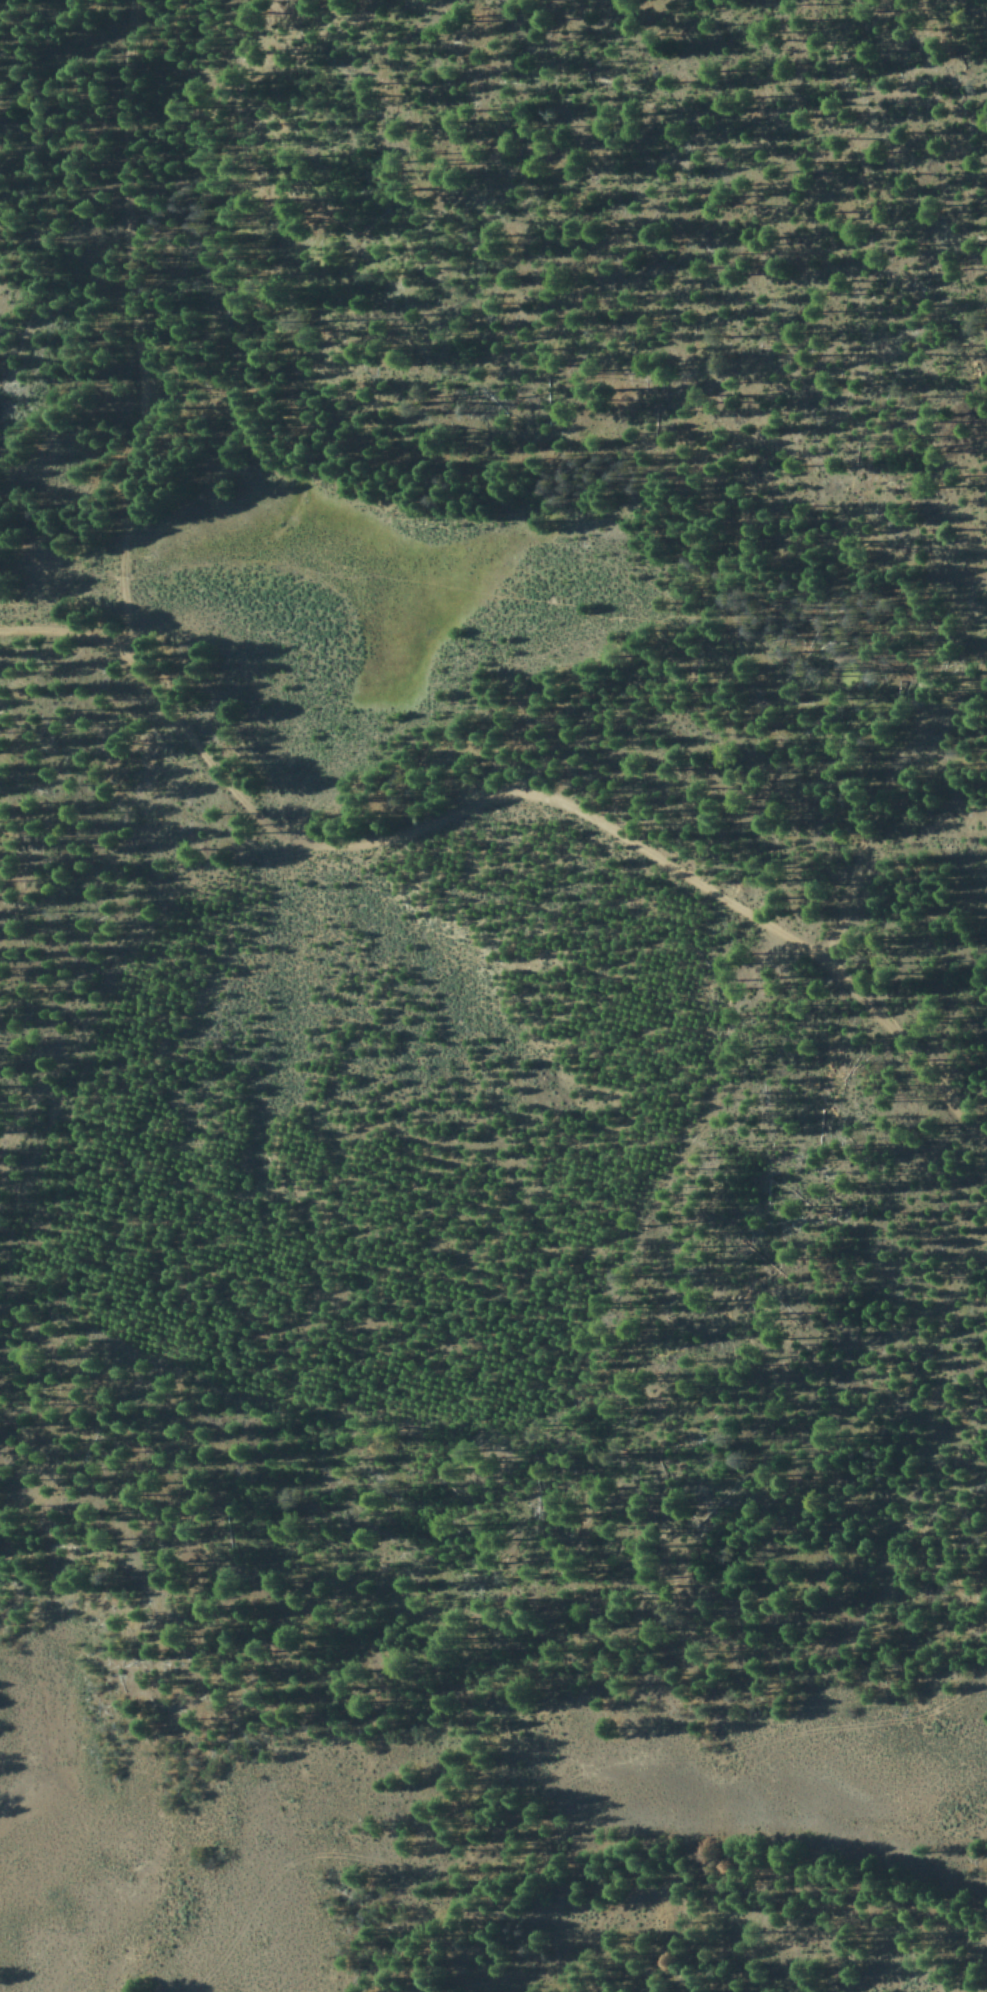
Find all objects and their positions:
road: (319, 324)
road: (540, 728)

